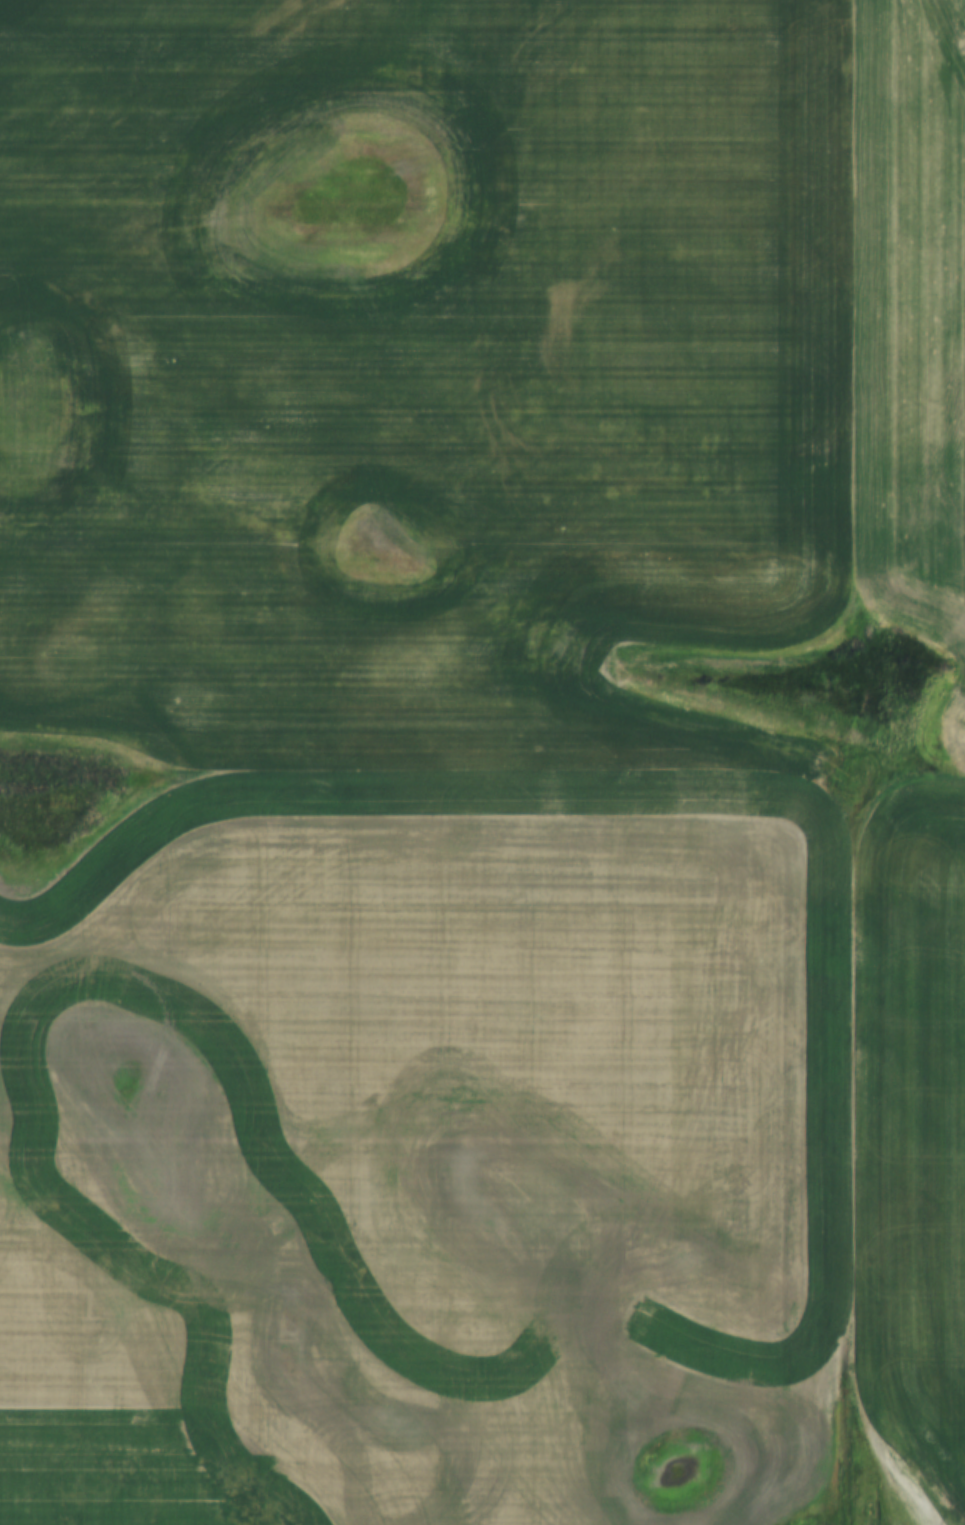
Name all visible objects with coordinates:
road: (846, 762)
road: (886, 843)

